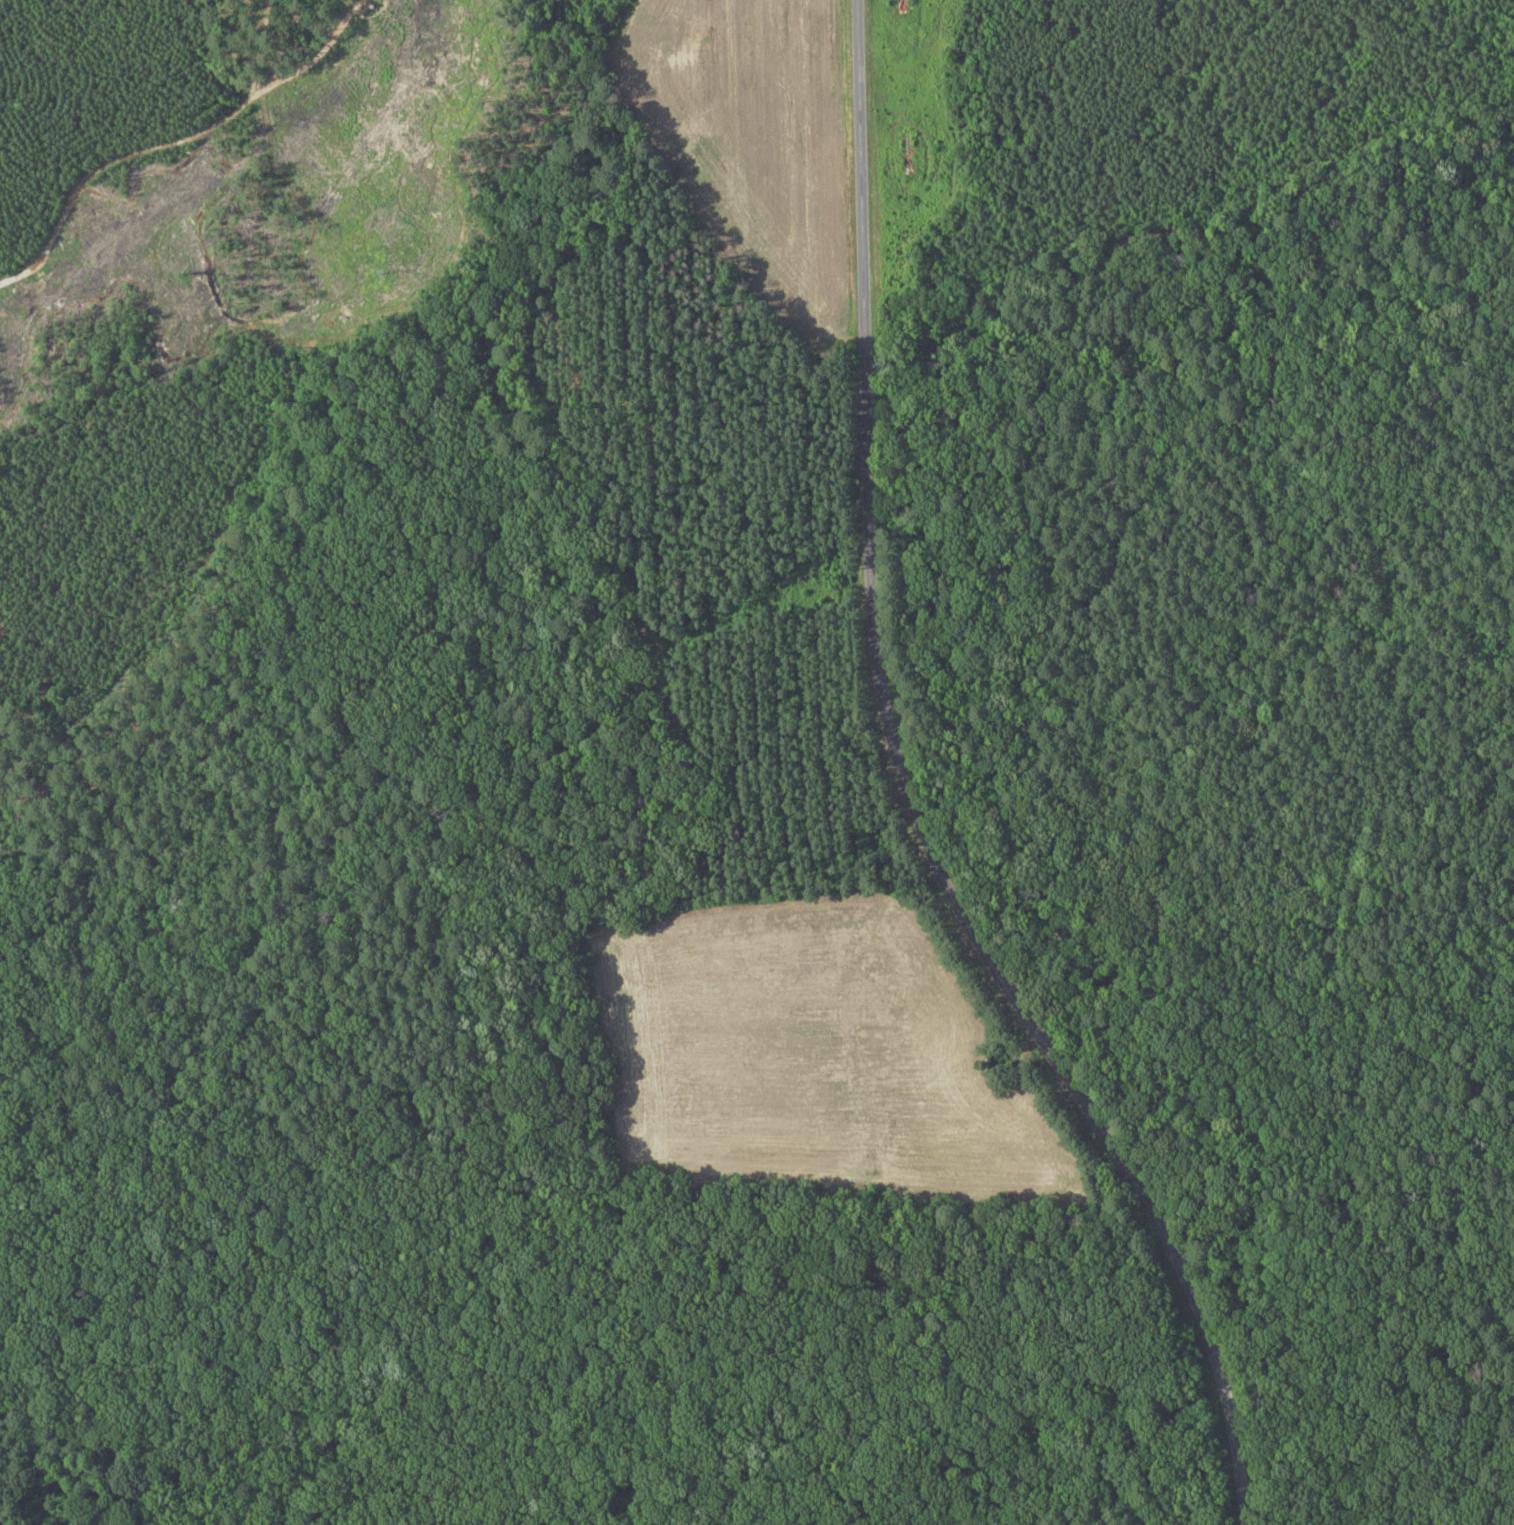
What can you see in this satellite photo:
road: (910, 804)

